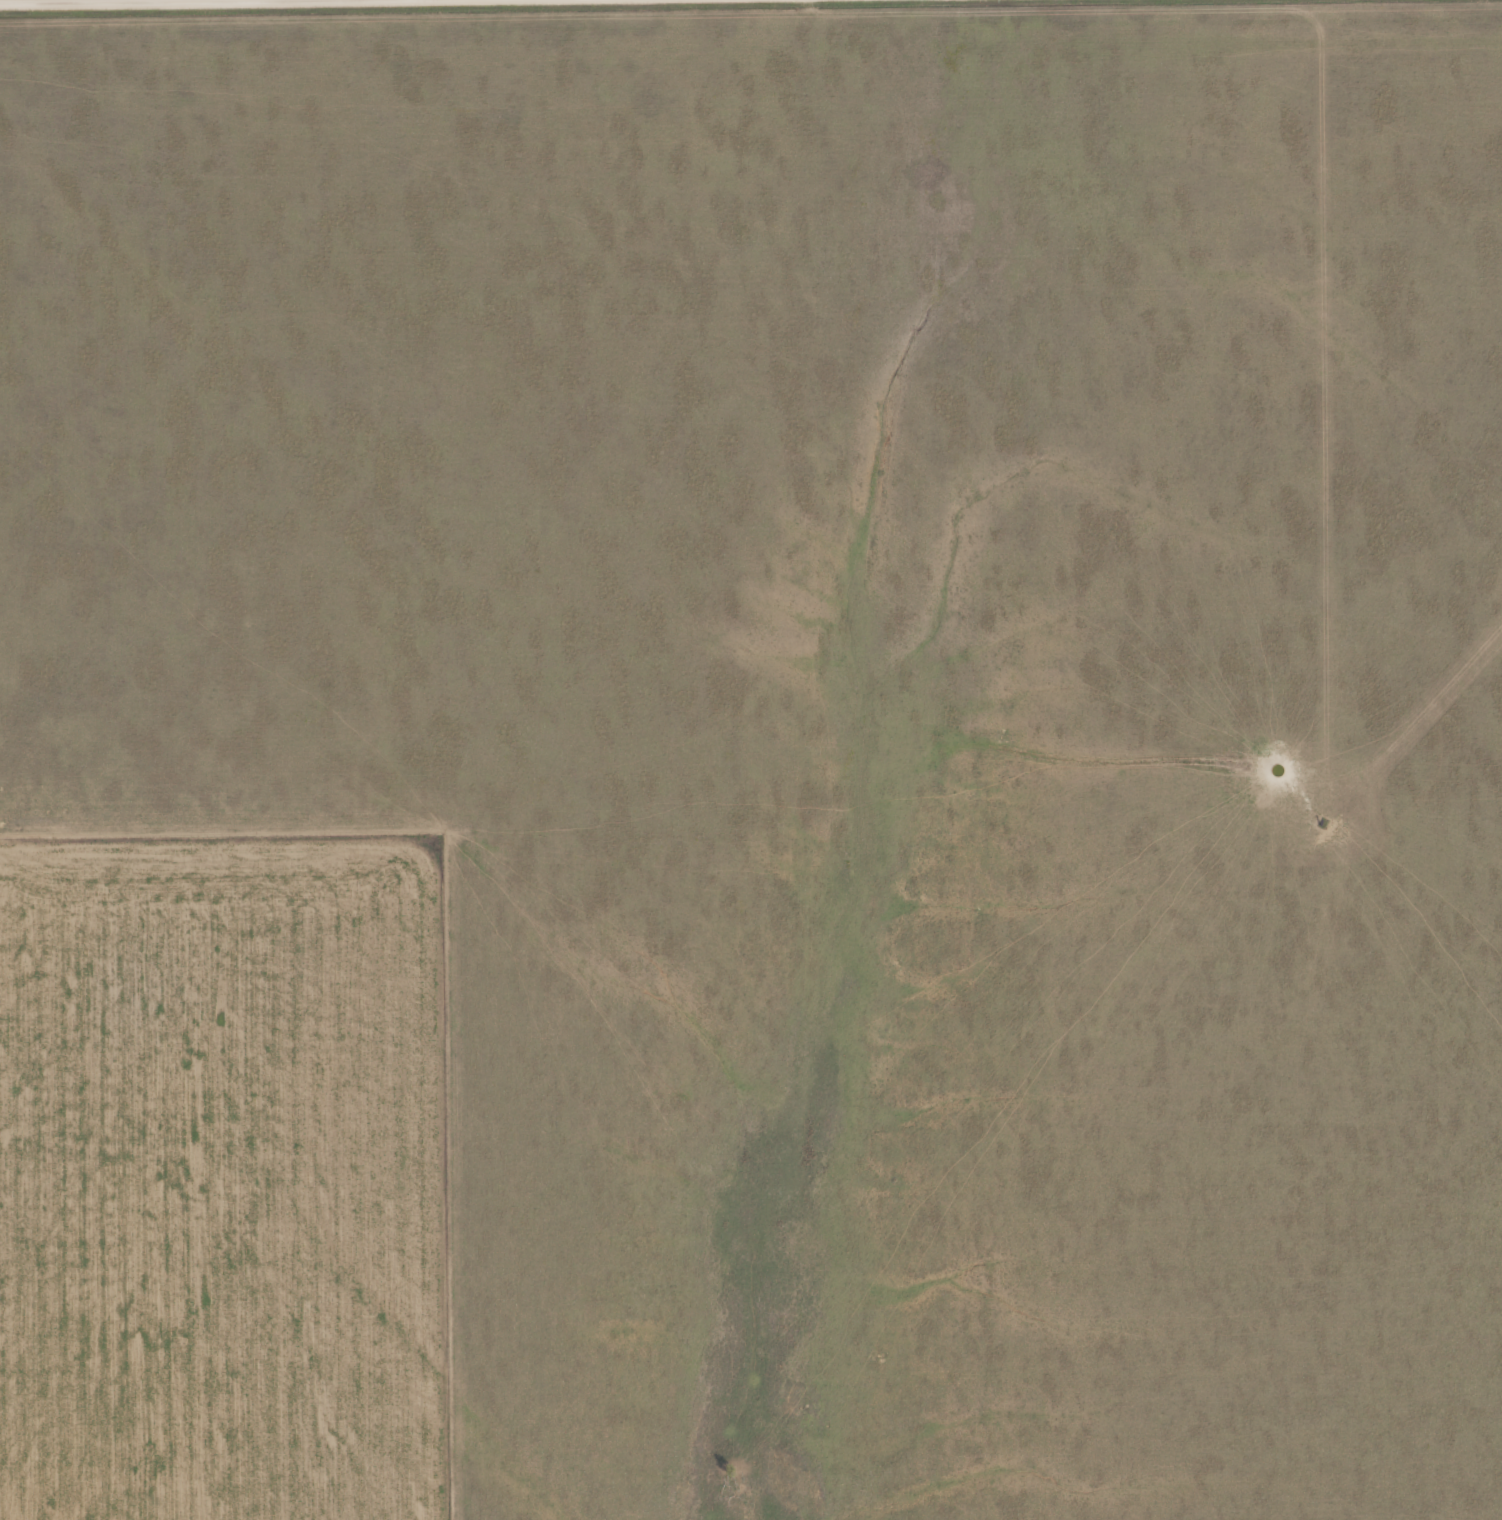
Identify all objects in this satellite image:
road: (420, 4)

